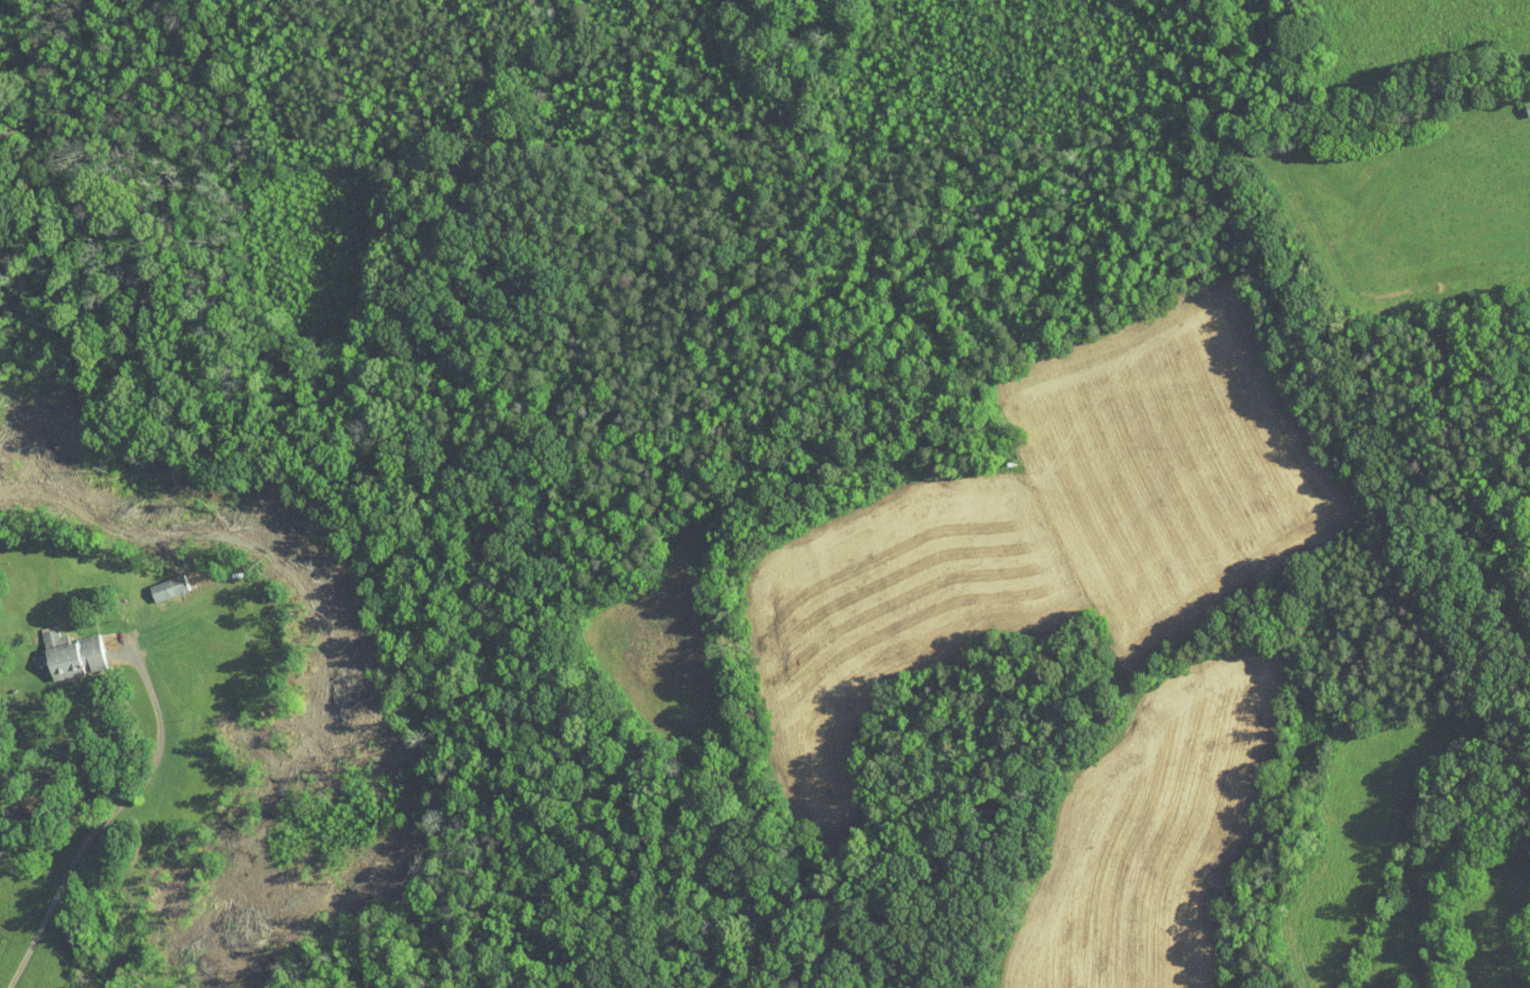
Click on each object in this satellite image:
building: (1521, 99)
building: (58, 647)
road: (109, 822)

